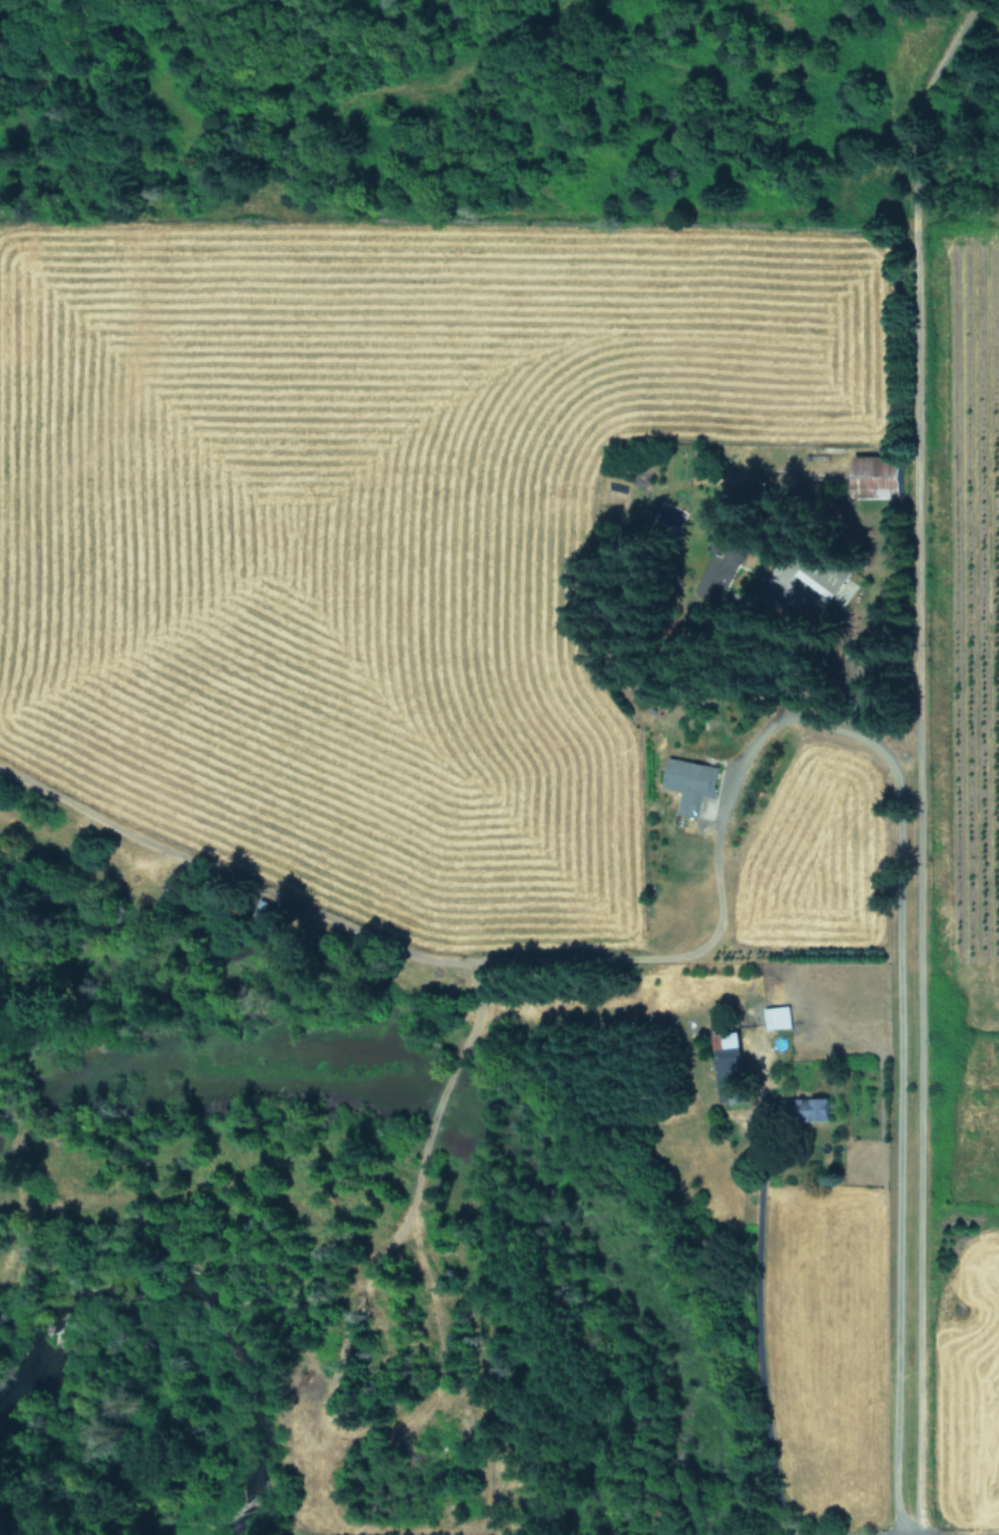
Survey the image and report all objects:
building: (884, 474)
building: (732, 557)
crop: (589, 684)
road: (919, 756)
road: (889, 766)
building: (691, 782)
building: (273, 912)
building: (779, 1017)
building: (731, 1066)
building: (824, 1108)
road: (759, 1167)
road: (764, 1370)
road: (894, 1521)

